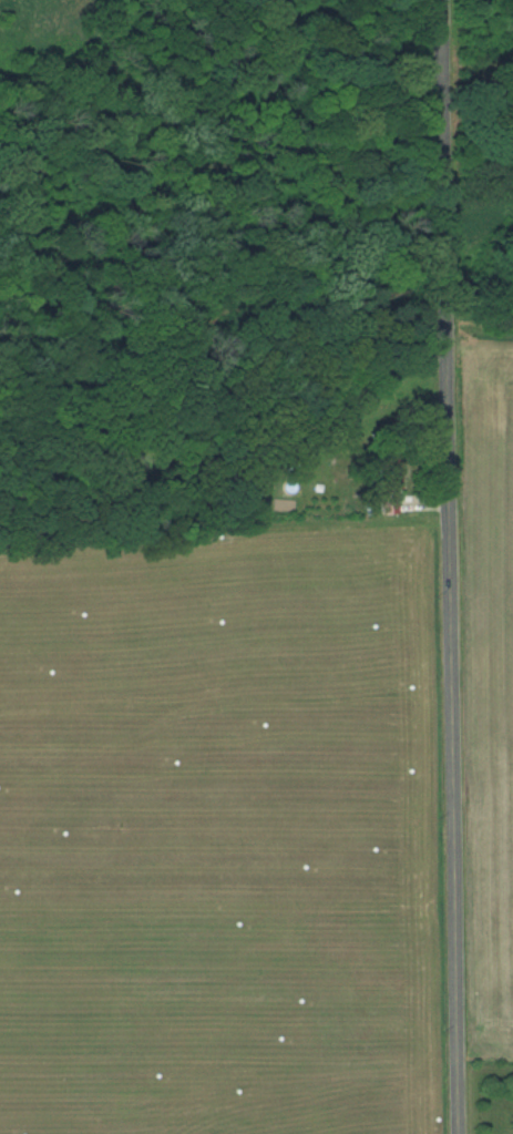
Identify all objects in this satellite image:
building: (388, 484)
road: (452, 566)

